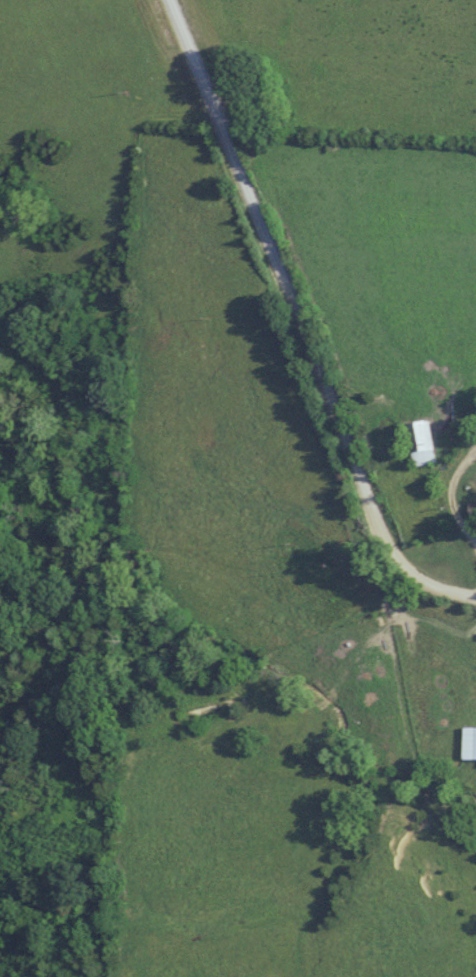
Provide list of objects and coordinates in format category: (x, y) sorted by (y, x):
road: (297, 322)
building: (474, 408)
building: (415, 442)
road: (450, 494)
building: (466, 742)

